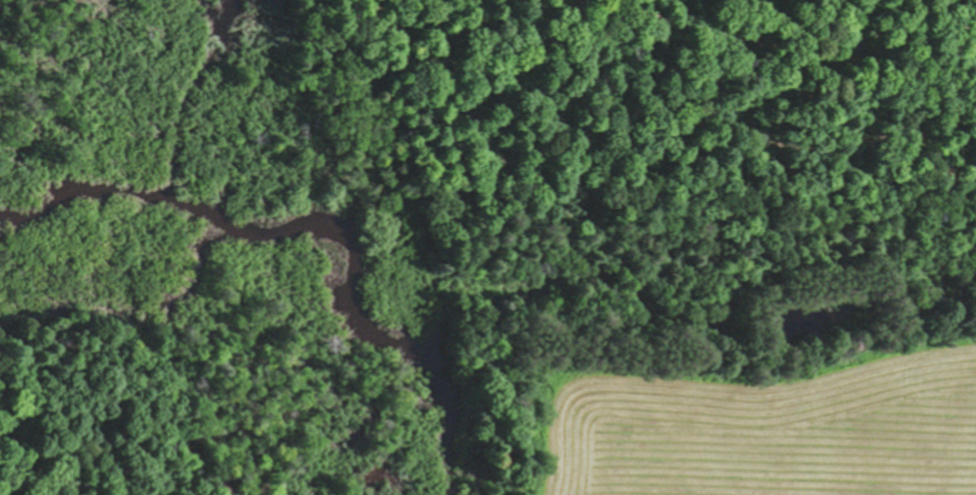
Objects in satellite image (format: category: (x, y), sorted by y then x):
river: (86, 190)
river: (323, 257)
river: (448, 434)

